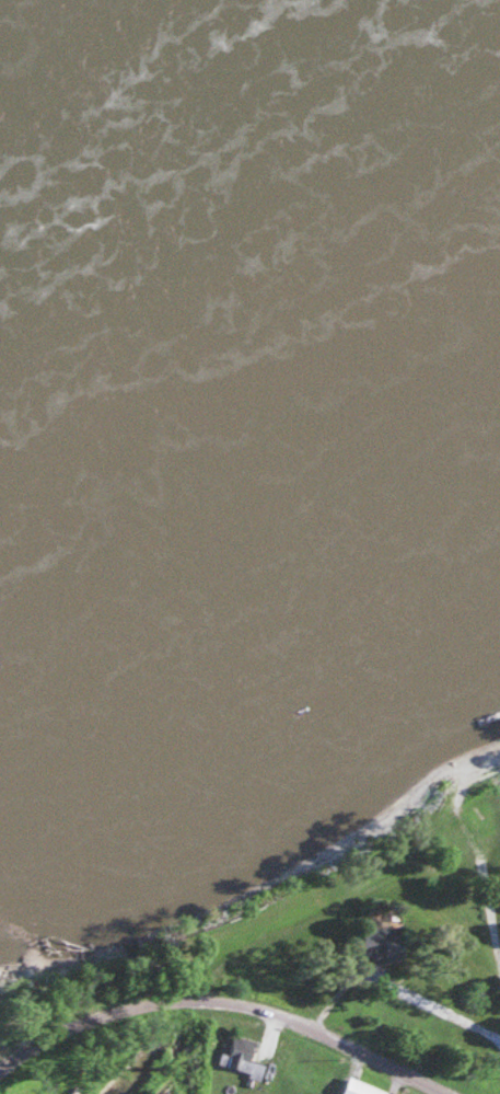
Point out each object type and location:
river: (202, 102)
road: (358, 921)
building: (383, 944)
road: (414, 965)
road: (77, 1012)
road: (306, 1027)
building: (241, 1055)
building: (363, 1087)

